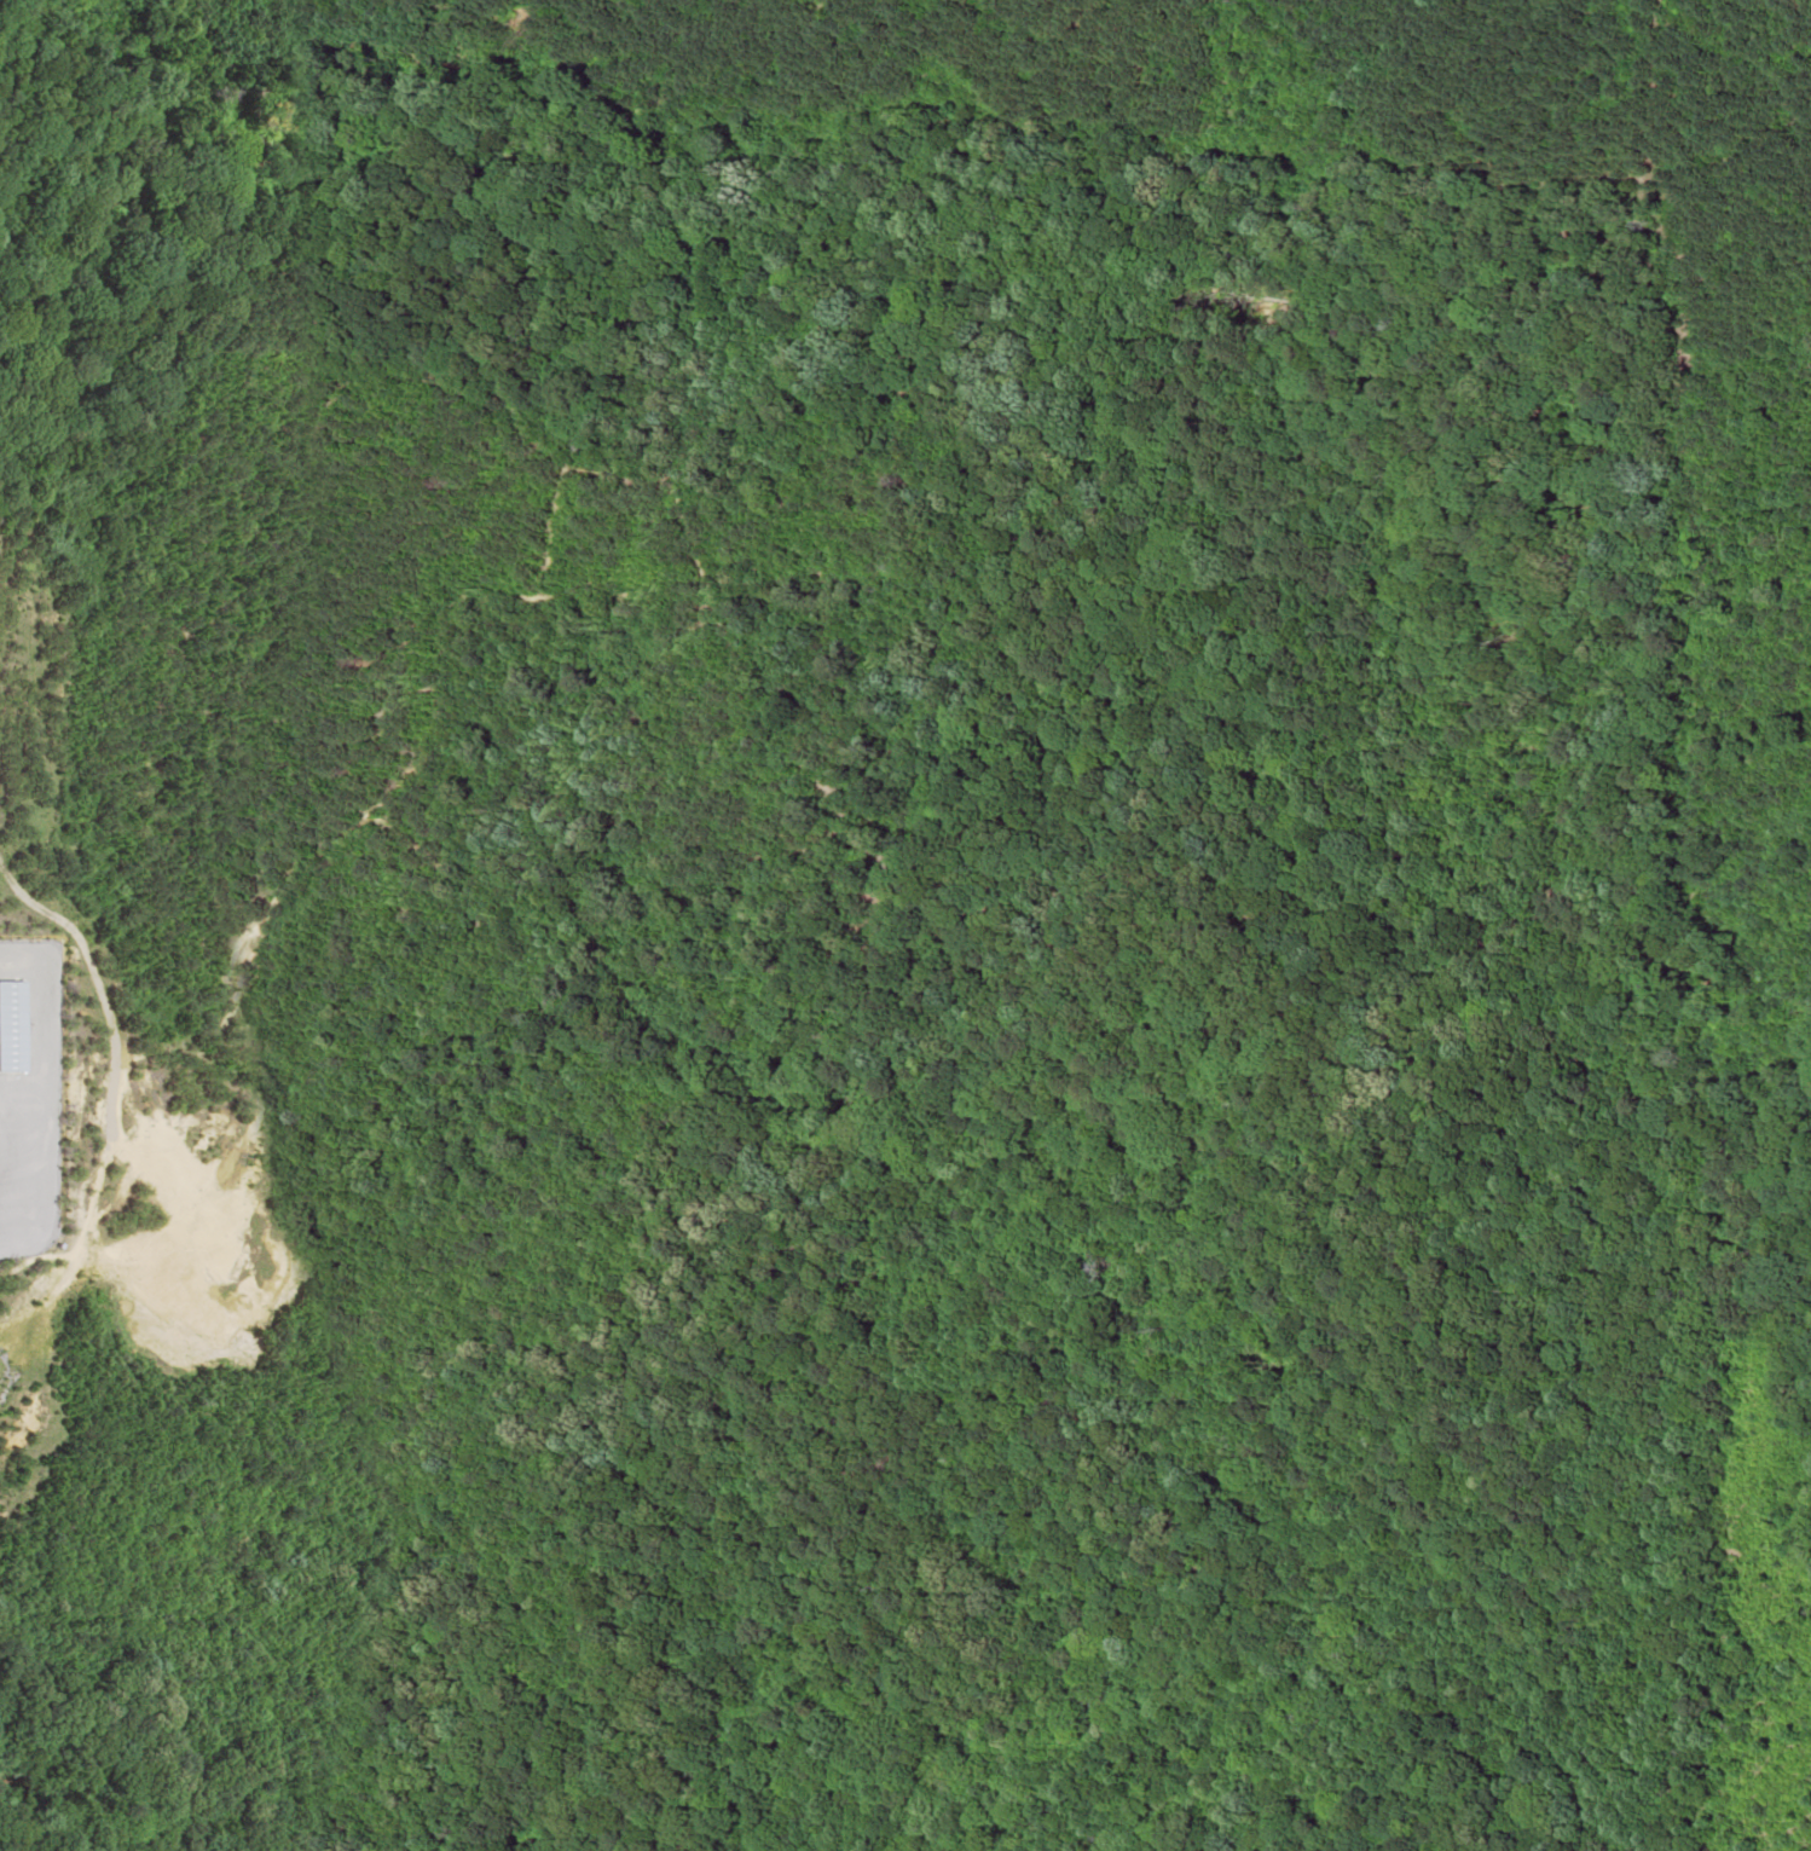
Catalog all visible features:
building: (10, 1024)

